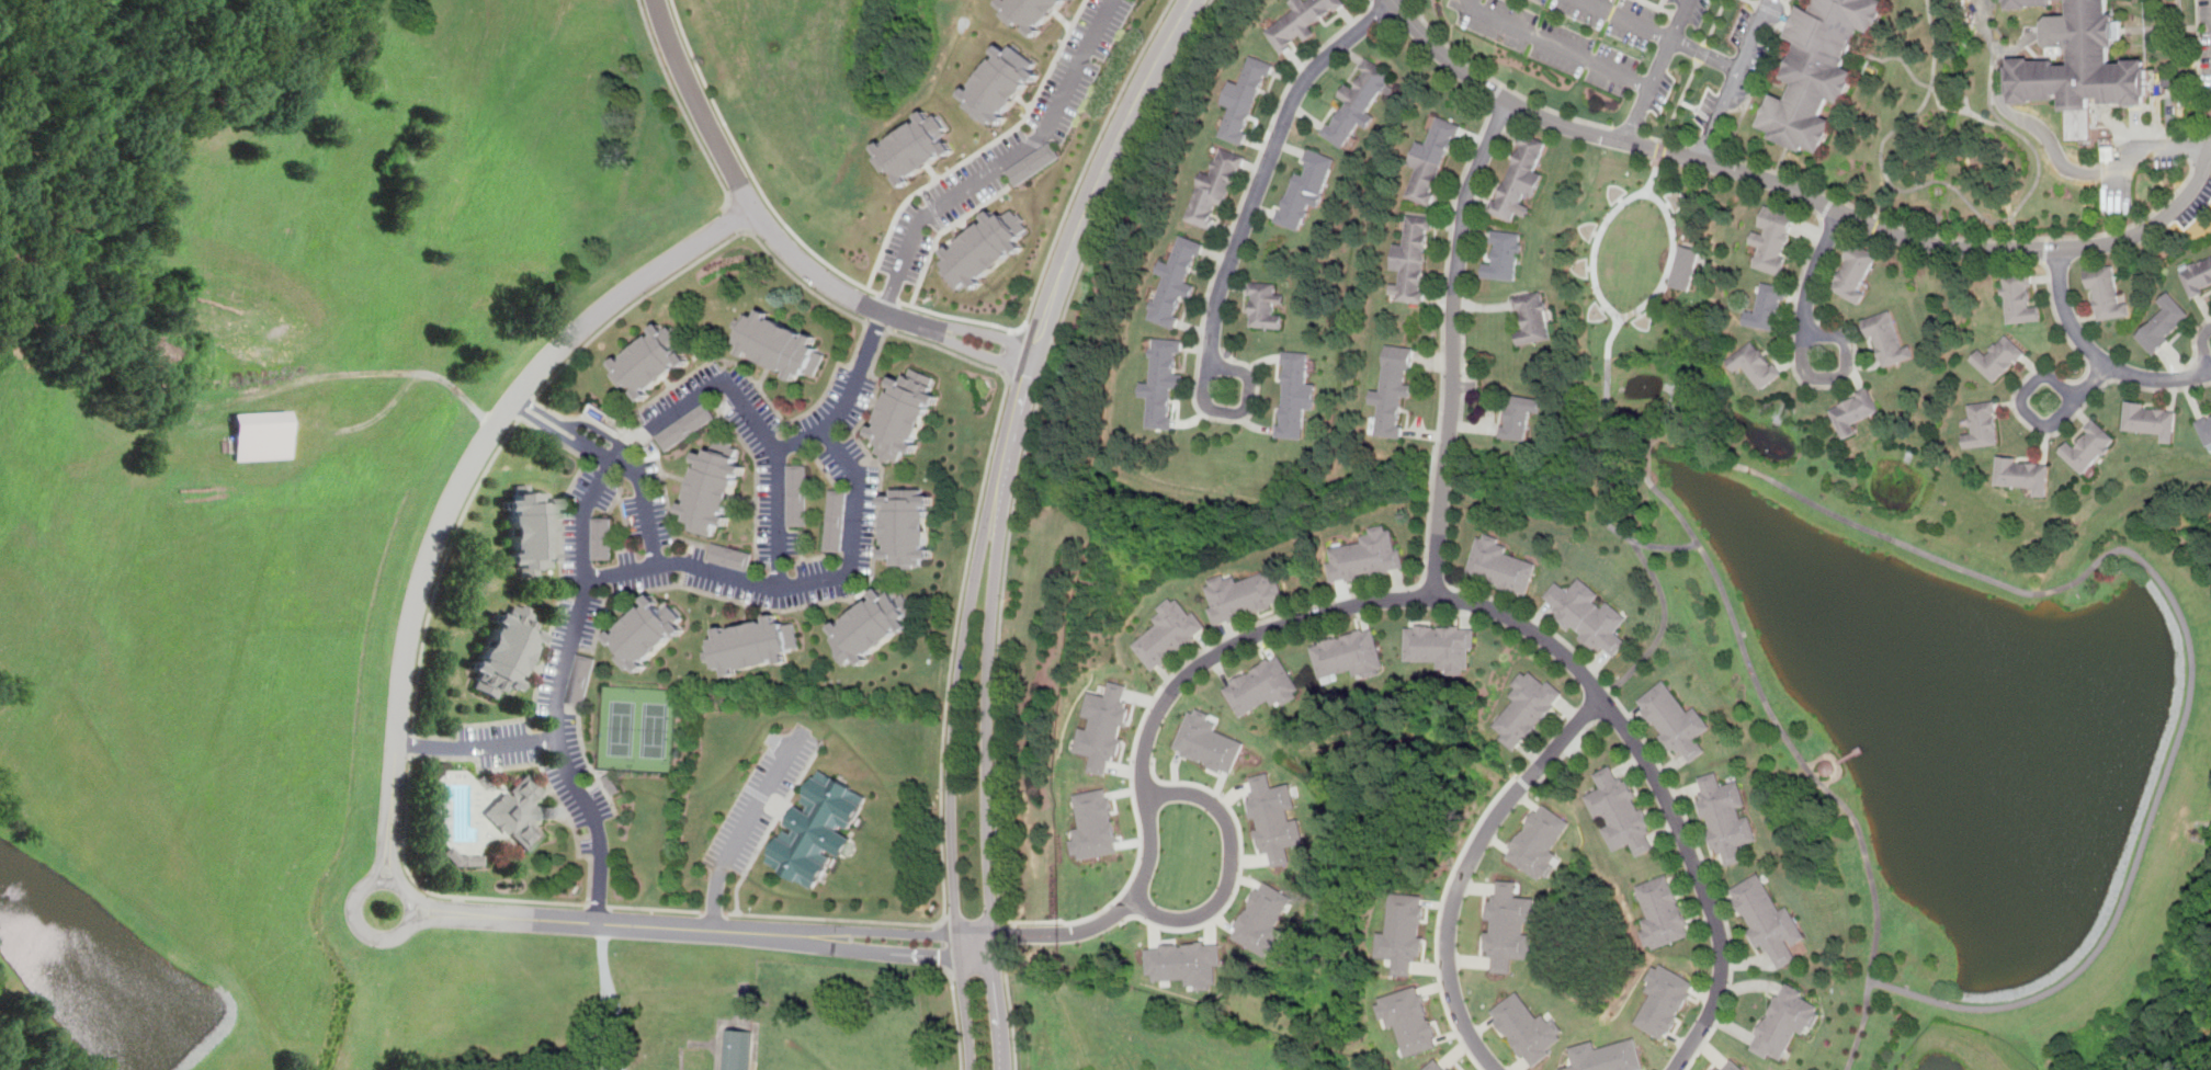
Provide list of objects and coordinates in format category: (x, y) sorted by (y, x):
road: (1407, 1)
road: (1396, 2)
road: (1758, 3)
road: (1656, 4)
building: (1032, 12)
building: (1301, 21)
road: (1716, 21)
road: (1662, 34)
road: (1558, 45)
road: (1703, 50)
building: (2085, 50)
building: (1818, 68)
road: (1658, 70)
road: (1734, 78)
road: (1500, 82)
building: (1001, 83)
road: (1496, 93)
building: (1245, 99)
building: (1359, 102)
road: (680, 104)
road: (704, 106)
road: (1678, 107)
road: (1631, 129)
road: (1678, 145)
road: (1663, 146)
building: (915, 147)
road: (1709, 148)
road: (2204, 148)
road: (2056, 152)
road: (1658, 158)
building: (1431, 161)
building: (1033, 162)
road: (1002, 163)
road: (1267, 164)
road: (748, 168)
building: (1521, 177)
building: (1215, 187)
building: (1306, 189)
road: (1800, 193)
road: (1827, 207)
road: (736, 215)
road: (1065, 218)
road: (745, 230)
road: (1961, 236)
building: (1773, 237)
road: (1072, 238)
building: (984, 247)
road: (2046, 249)
road: (1218, 255)
building: (1505, 255)
building: (1413, 260)
building: (1685, 266)
building: (1855, 270)
road: (1815, 271)
building: (2198, 275)
road: (826, 280)
building: (1176, 281)
building: (2107, 293)
road: (888, 297)
building: (2018, 298)
road: (631, 305)
building: (1266, 305)
building: (1769, 307)
building: (1533, 317)
building: (2164, 322)
road: (876, 325)
road: (1041, 329)
road: (1018, 330)
road: (977, 331)
road: (907, 335)
road: (1441, 335)
building: (1887, 339)
road: (2193, 340)
building: (781, 342)
road: (1454, 343)
road: (1209, 346)
road: (973, 348)
road: (2204, 349)
road: (1011, 350)
road: (1792, 356)
building: (1999, 357)
road: (2099, 357)
building: (653, 362)
building: (1756, 363)
road: (1004, 371)
road: (1839, 376)
building: (1163, 382)
road: (2091, 384)
road: (1607, 387)
building: (1394, 389)
building: (1296, 394)
road: (524, 405)
road: (2022, 405)
road: (2015, 408)
road: (666, 410)
road: (781, 410)
road: (1243, 410)
building: (1853, 410)
building: (907, 414)
building: (1519, 416)
building: (2151, 420)
building: (1983, 424)
building: (687, 426)
building: (2206, 429)
building: (263, 435)
road: (1025, 441)
building: (2089, 447)
road: (619, 455)
building: (2025, 471)
road: (465, 485)
building: (714, 487)
building: (798, 493)
road: (778, 516)
building: (836, 521)
building: (909, 525)
building: (530, 532)
building: (603, 538)
road: (1926, 554)
building: (1368, 555)
building: (730, 556)
road: (685, 561)
building: (1501, 565)
road: (1433, 582)
building: (1244, 595)
building: (1590, 614)
building: (874, 624)
road: (1664, 628)
building: (649, 633)
building: (1170, 633)
building: (751, 645)
building: (1441, 645)
building: (504, 650)
road: (1215, 652)
building: (1348, 653)
building: (581, 680)
building: (1263, 685)
building: (1527, 706)
road: (1146, 709)
road: (1594, 713)
building: (1676, 720)
road: (477, 721)
building: (1103, 726)
park: (637, 727)
building: (1209, 741)
road: (410, 743)
road: (478, 747)
road: (1563, 753)
road: (410, 755)
road: (1141, 760)
road: (951, 779)
road: (987, 782)
road: (1524, 782)
building: (612, 784)
road: (1667, 784)
parking lot: (762, 799)
building: (517, 811)
building: (1620, 812)
building: (1726, 816)
building: (1275, 818)
building: (1093, 824)
road: (744, 827)
building: (817, 831)
building: (1539, 841)
building: (464, 856)
road: (1231, 862)
road: (1240, 863)
road: (1466, 866)
road: (1699, 877)
road: (600, 908)
road: (657, 910)
road: (1115, 911)
building: (1662, 911)
road: (712, 913)
road: (1439, 917)
road: (1005, 919)
building: (1263, 919)
road: (832, 921)
building: (1769, 921)
road: (598, 923)
building: (1508, 925)
road: (871, 930)
building: (1403, 932)
road: (1004, 934)
road: (372, 936)
road: (974, 940)
road: (942, 946)
road: (873, 949)
building: (1186, 963)
road: (601, 997)
building: (1664, 1000)
road: (1009, 1009)
road: (620, 1015)
building: (1409, 1018)
road: (955, 1021)
building: (1787, 1021)
road: (1863, 1026)
building: (1528, 1028)
road: (39, 1032)
building: (740, 1048)
building: (1607, 1056)
building: (1436, 1066)
building: (1731, 1066)
building: (1454, 1068)

